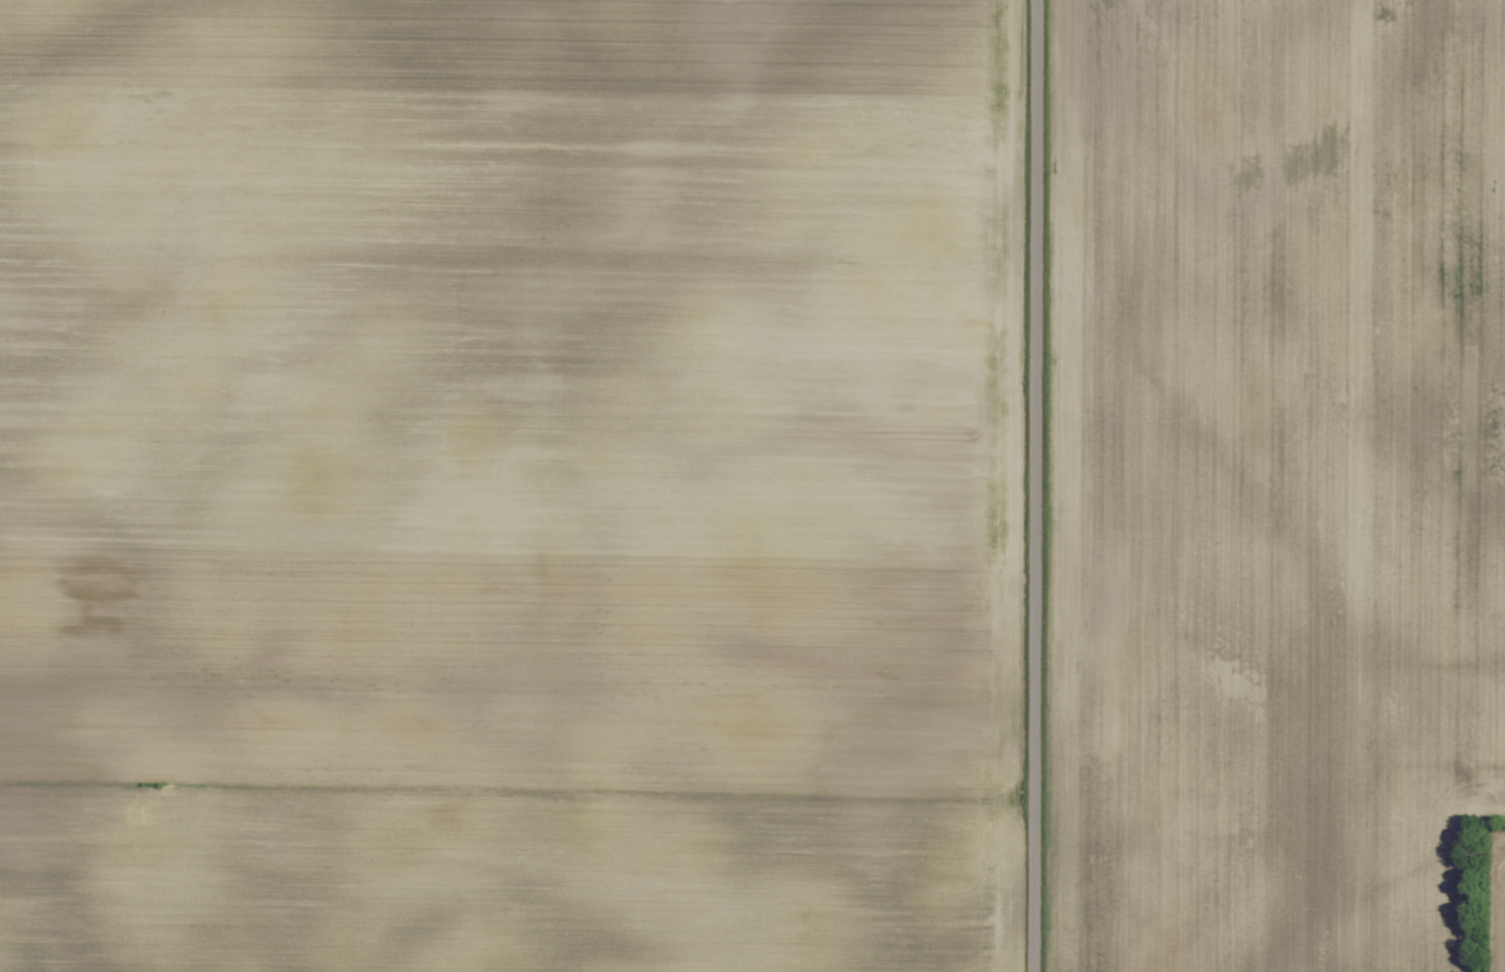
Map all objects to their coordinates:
road: (1037, 486)

